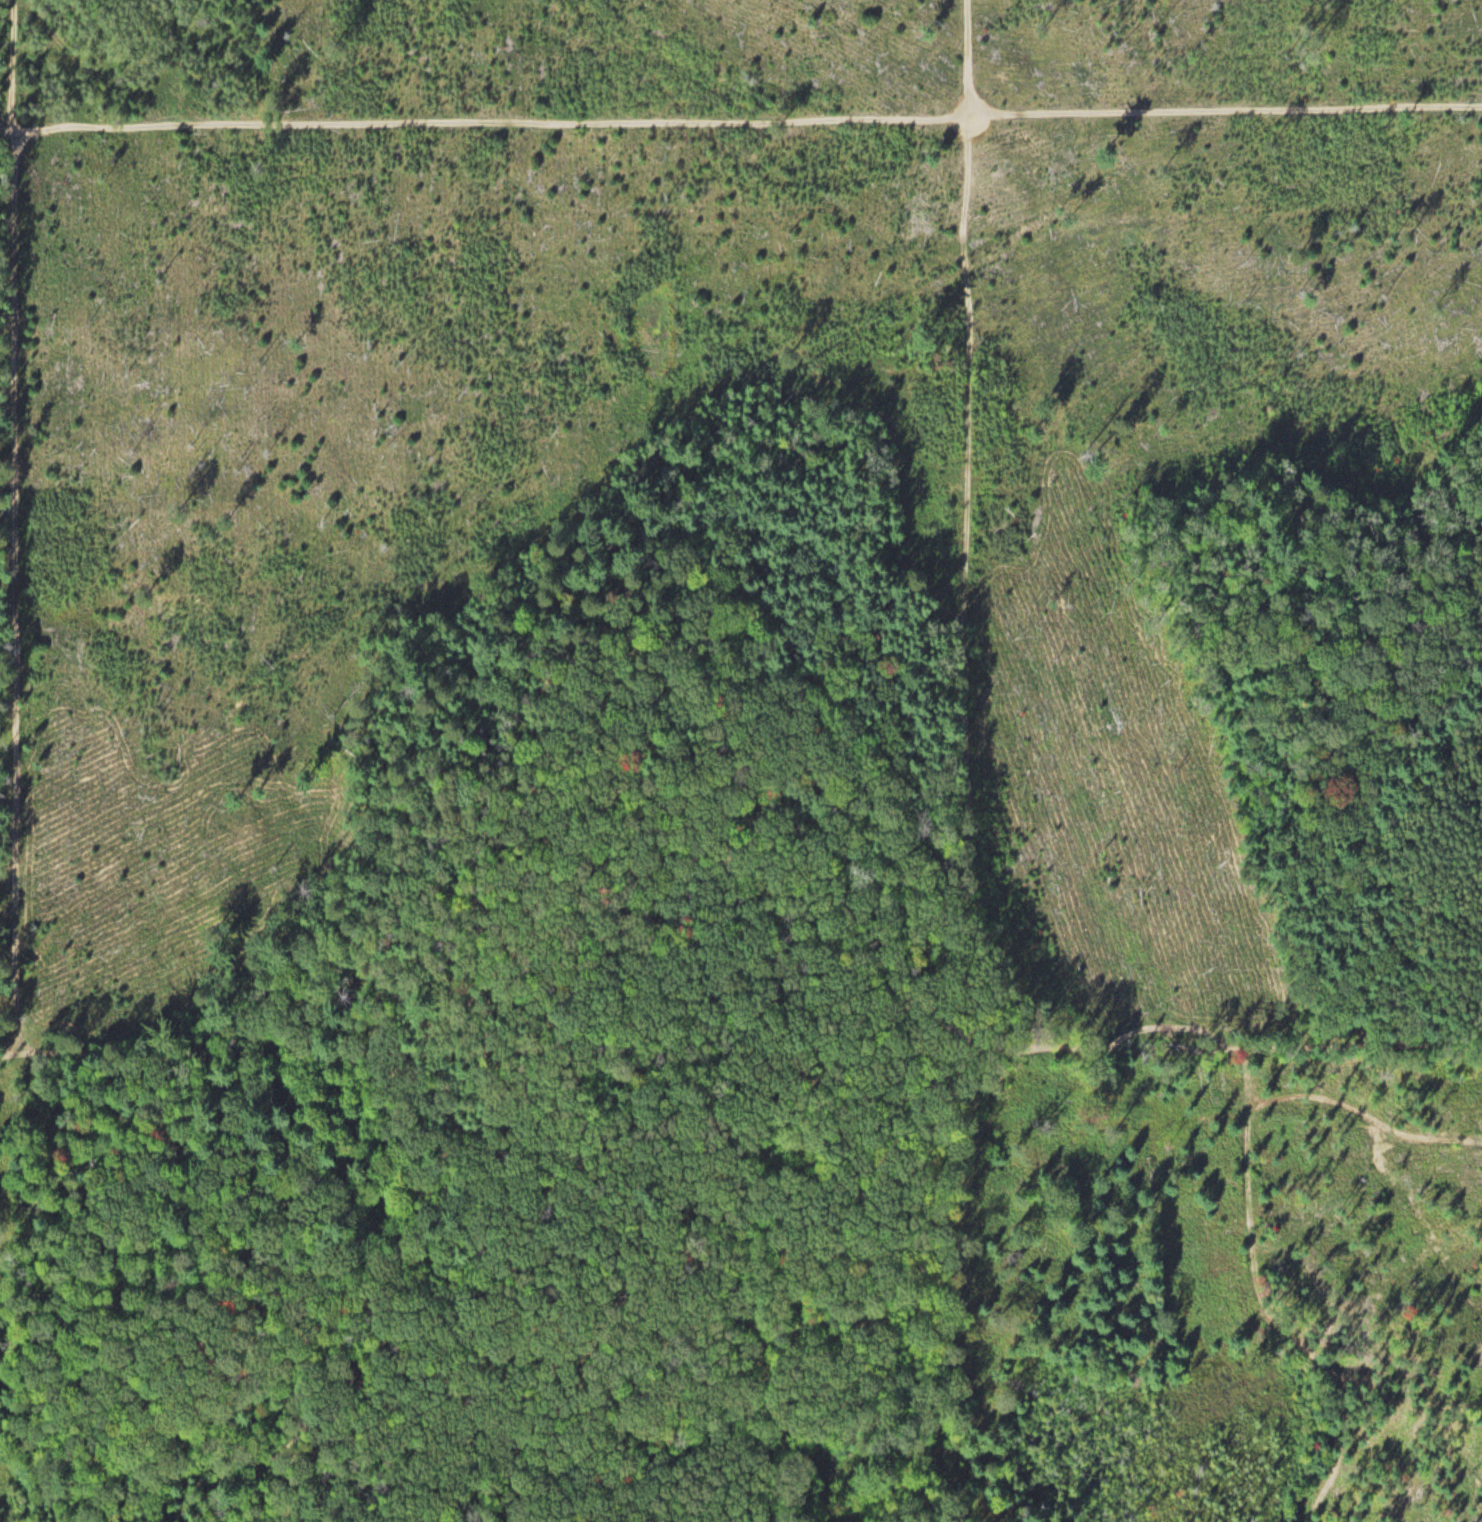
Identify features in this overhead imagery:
road: (12, 61)
road: (741, 122)

